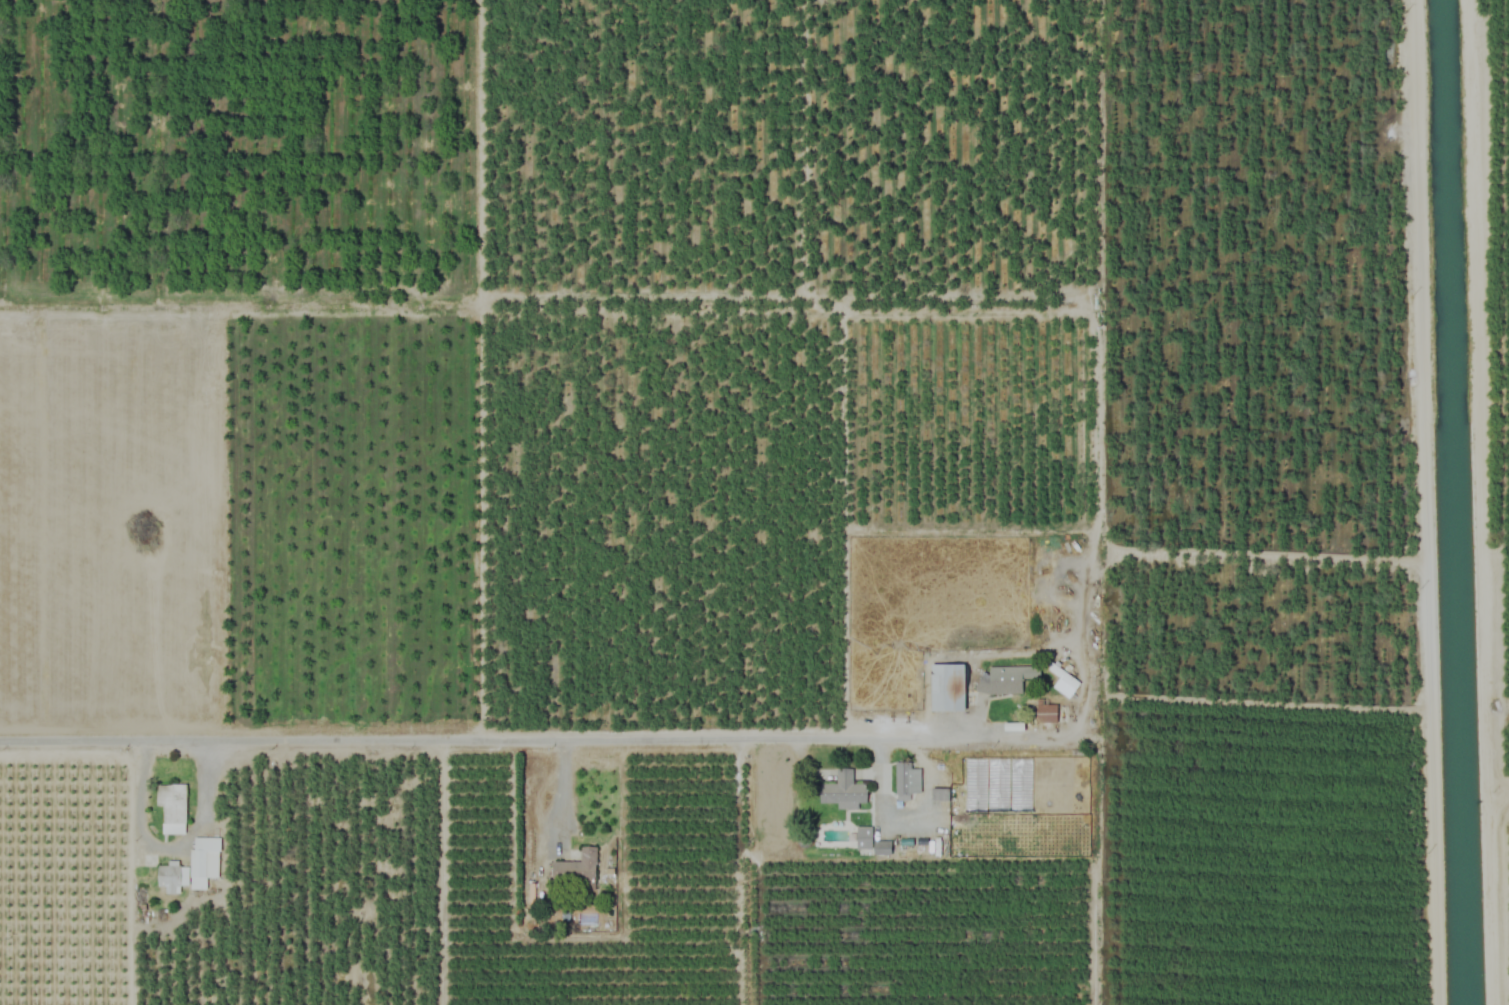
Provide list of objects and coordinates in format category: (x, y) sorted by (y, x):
building: (1006, 680)
building: (1062, 681)
building: (949, 687)
building: (1046, 714)
road: (534, 739)
building: (902, 782)
road: (562, 786)
building: (842, 791)
building: (172, 808)
road: (168, 840)
building: (871, 842)
building: (192, 867)
building: (576, 871)

